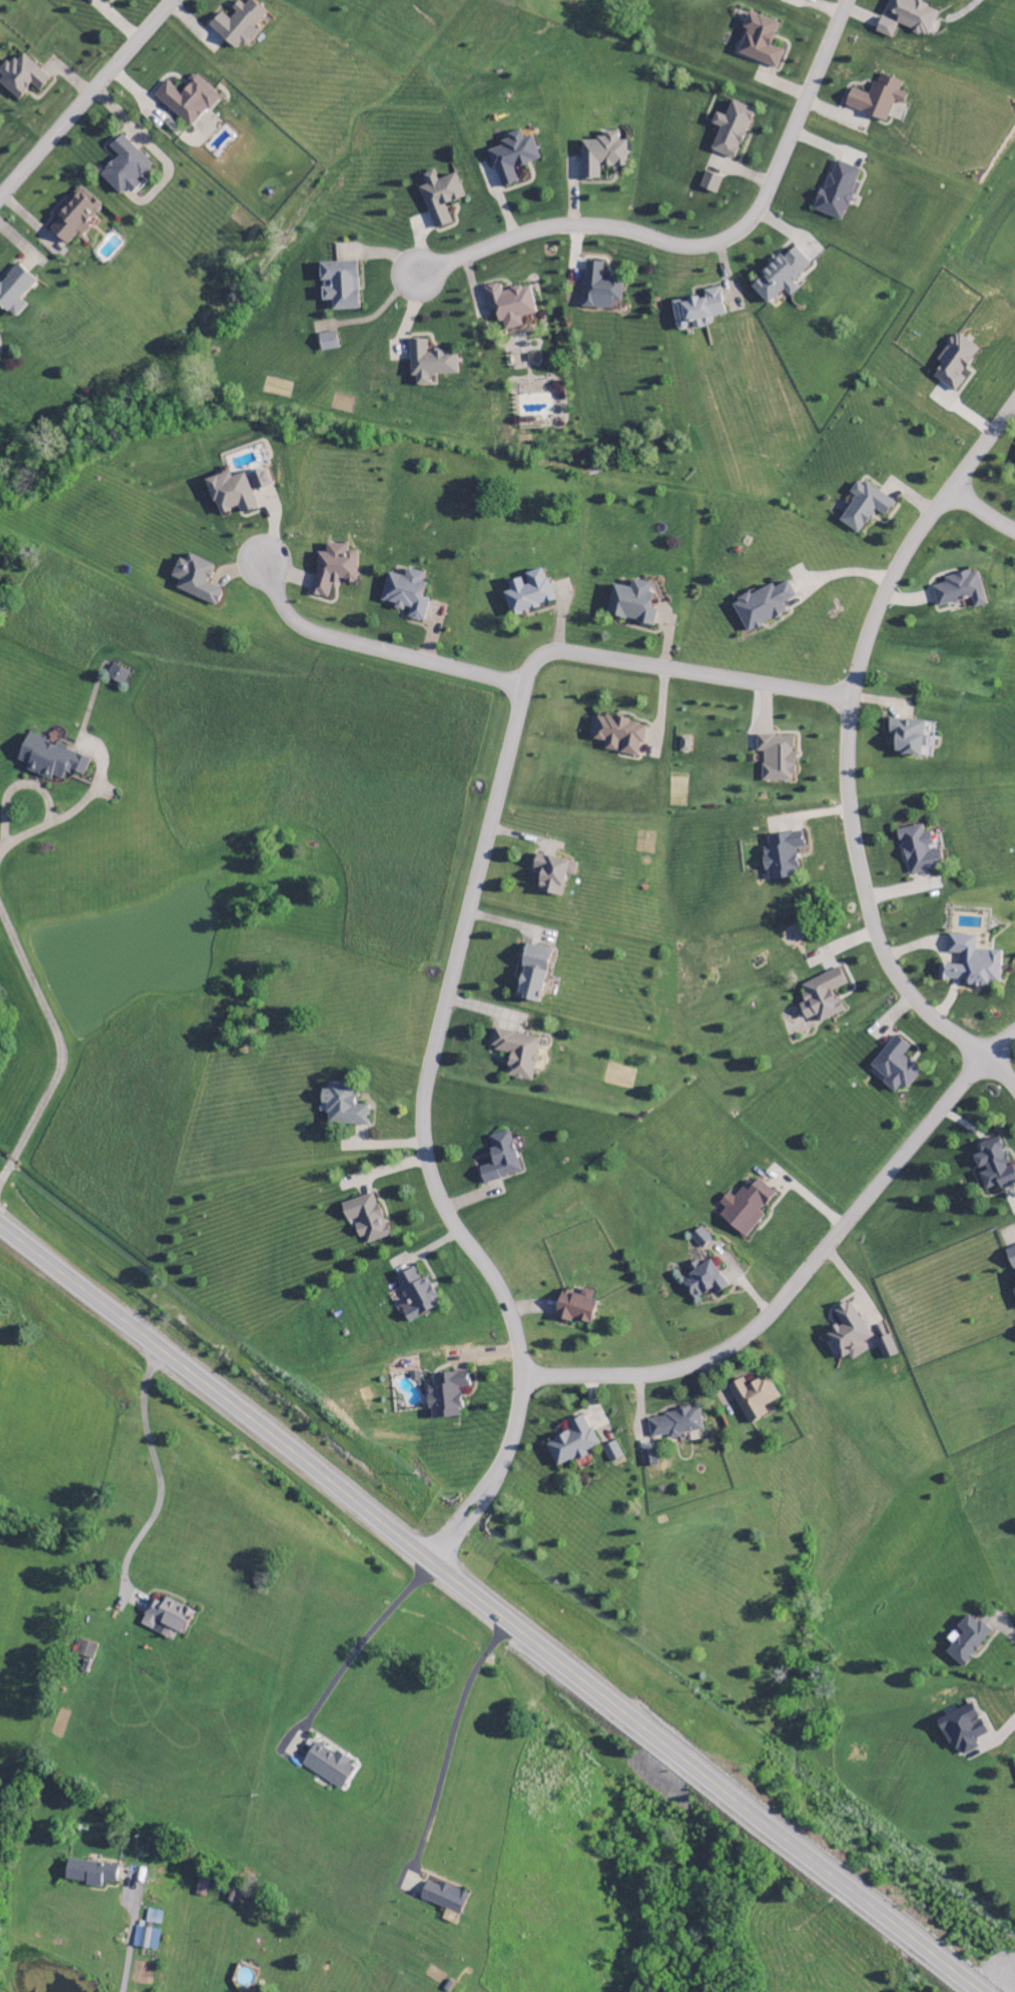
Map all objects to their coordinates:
building: (107, 0)
building: (912, 16)
building: (237, 25)
building: (886, 28)
building: (759, 42)
building: (20, 77)
road: (84, 94)
building: (876, 99)
building: (186, 101)
building: (730, 131)
building: (601, 156)
building: (512, 158)
building: (123, 168)
building: (710, 184)
building: (836, 193)
building: (439, 198)
building: (73, 219)
road: (705, 255)
building: (780, 277)
building: (339, 286)
building: (599, 289)
building: (13, 292)
building: (509, 306)
building: (697, 312)
building: (327, 342)
building: (429, 364)
building: (955, 365)
building: (1014, 474)
building: (260, 481)
building: (231, 495)
building: (864, 508)
road: (984, 514)
building: (333, 570)
building: (195, 581)
building: (960, 591)
building: (528, 594)
building: (406, 596)
building: (631, 604)
building: (762, 607)
road: (370, 659)
building: (116, 676)
building: (619, 736)
building: (908, 739)
building: (684, 746)
road: (849, 758)
building: (48, 760)
building: (777, 760)
road: (36, 790)
road: (1, 847)
building: (919, 851)
building: (782, 856)
building: (552, 873)
building: (971, 963)
road: (454, 973)
building: (822, 996)
road: (60, 1050)
building: (516, 1054)
building: (895, 1066)
building: (342, 1106)
building: (499, 1159)
building: (993, 1166)
building: (747, 1207)
building: (365, 1219)
building: (700, 1238)
building: (1012, 1258)
road: (805, 1279)
building: (703, 1280)
building: (1014, 1290)
building: (416, 1295)
building: (576, 1307)
building: (848, 1334)
building: (444, 1395)
building: (753, 1398)
building: (675, 1424)
building: (571, 1443)
building: (612, 1453)
road: (153, 1468)
road: (491, 1608)
building: (165, 1619)
road: (364, 1640)
building: (967, 1641)
building: (83, 1650)
building: (962, 1731)
road: (449, 1740)
building: (326, 1767)
building: (88, 1874)
building: (443, 1898)
building: (152, 1918)
road: (129, 1941)

